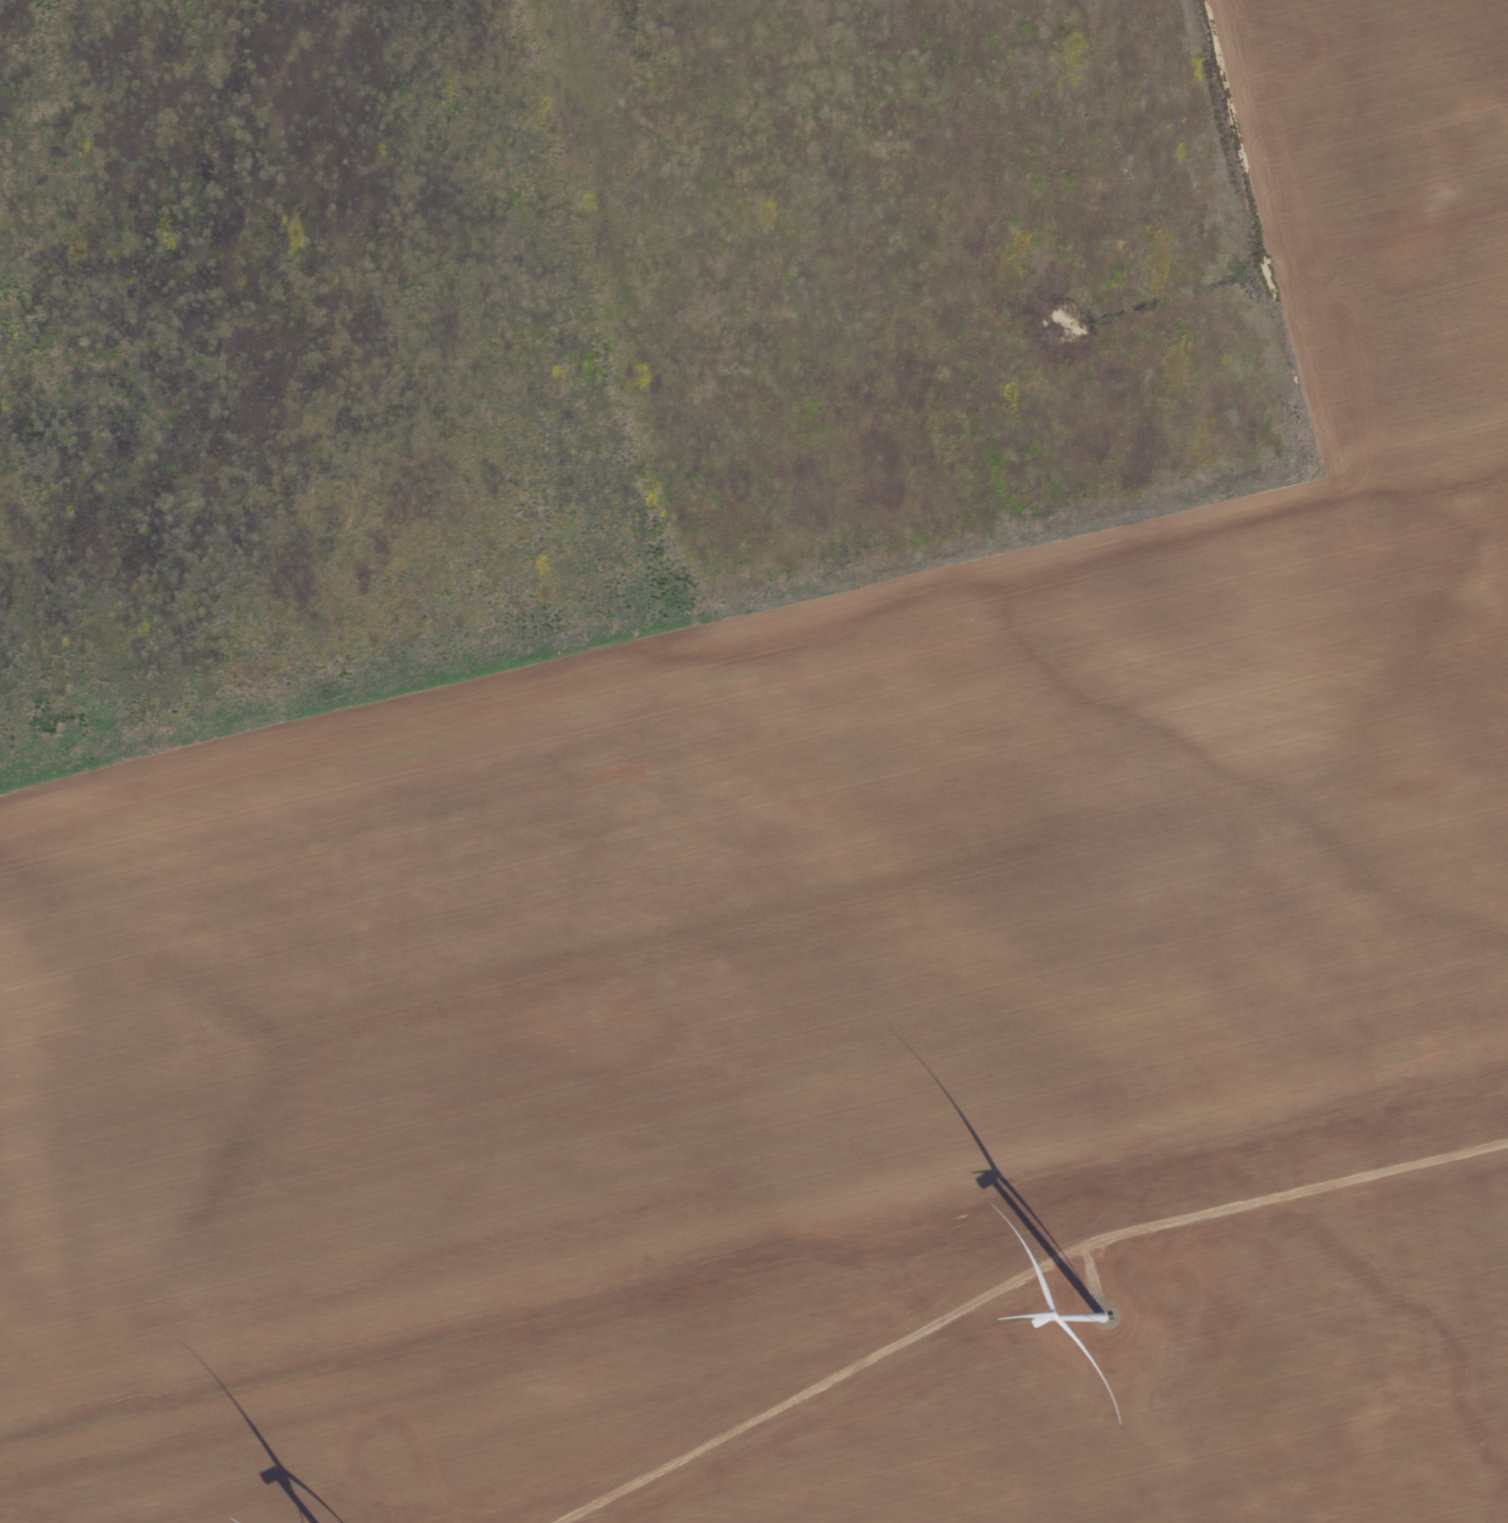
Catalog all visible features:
wind turbine: (1095, 1318)

